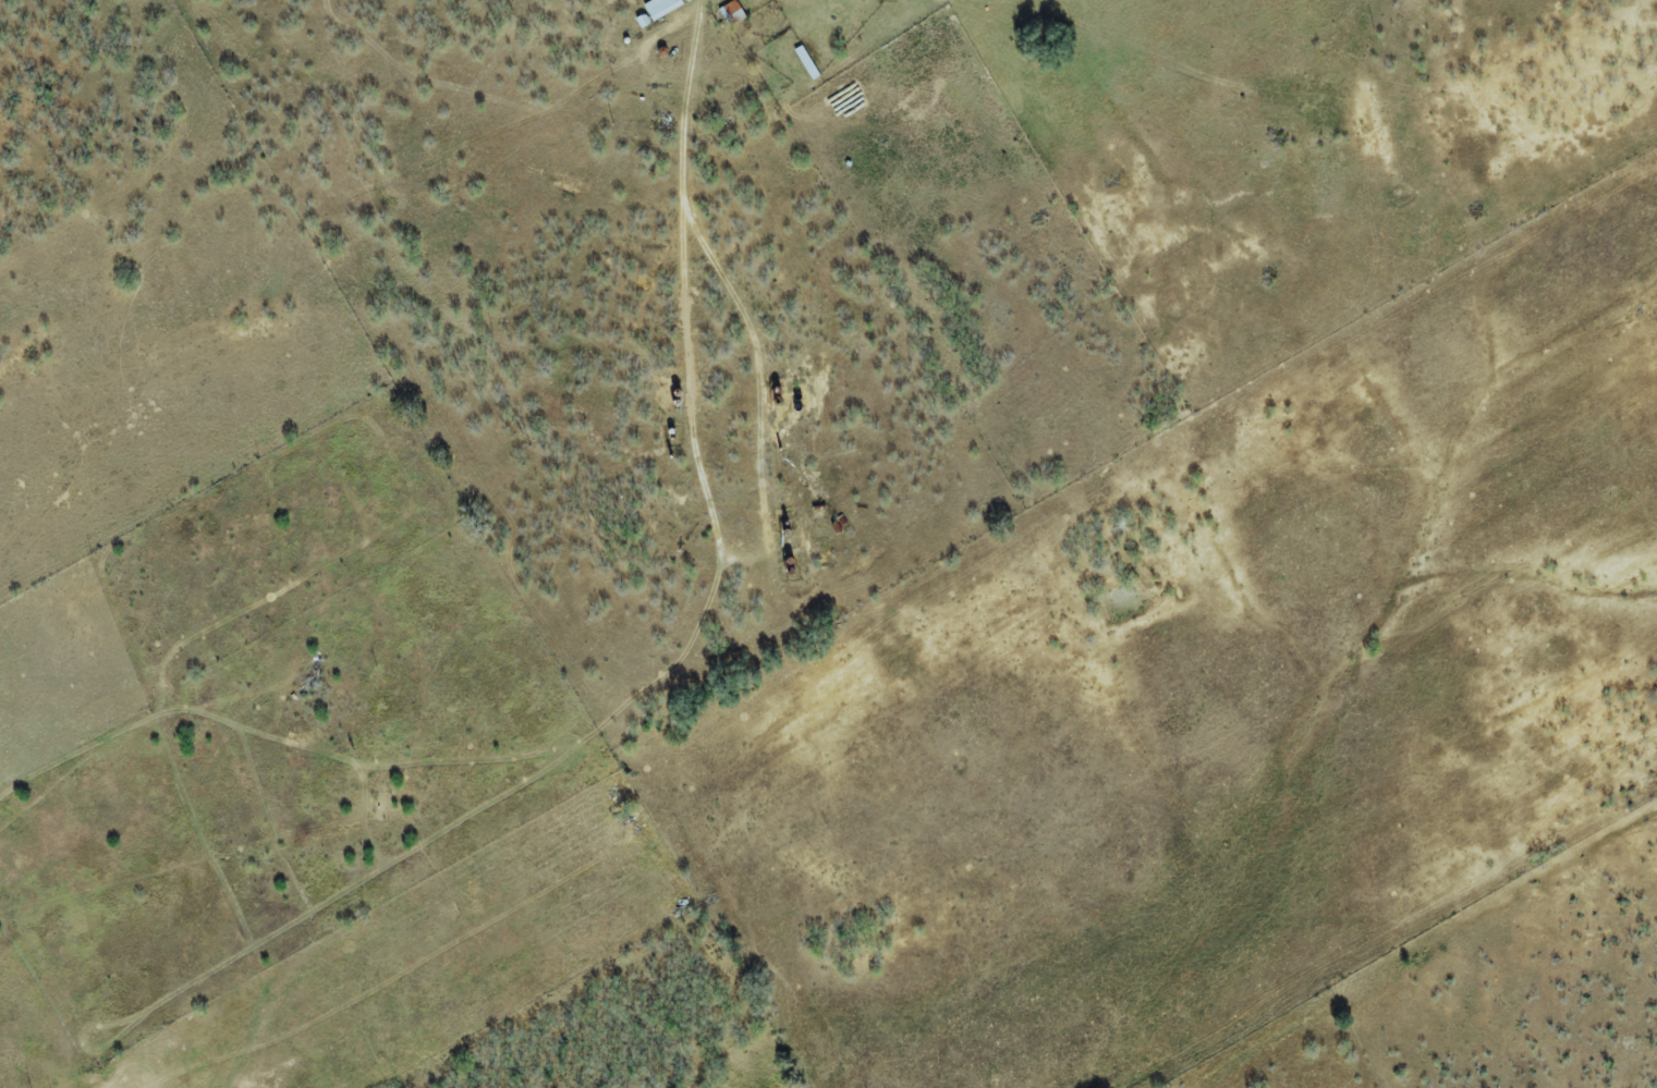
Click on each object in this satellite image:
building: (660, 8)
building: (730, 12)
building: (805, 62)
road: (681, 274)

